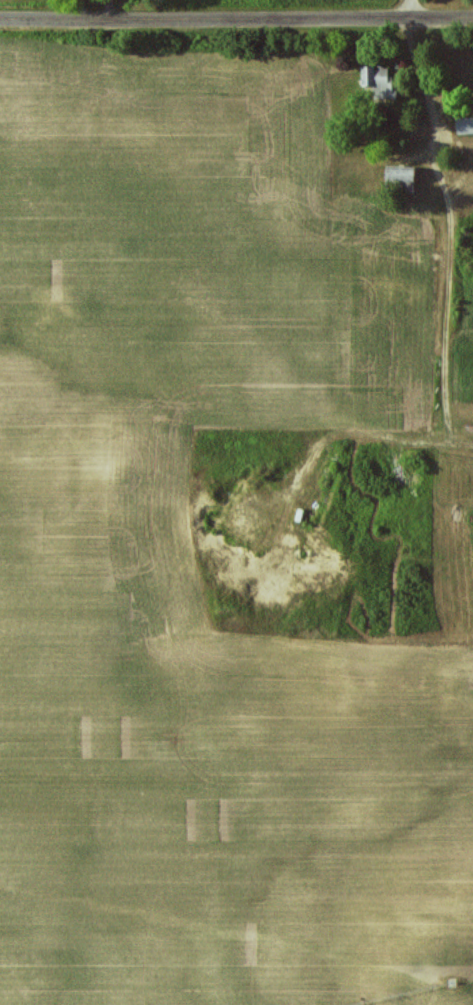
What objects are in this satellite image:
road: (415, 10)
road: (236, 22)
building: (381, 81)
building: (465, 126)
building: (404, 174)

